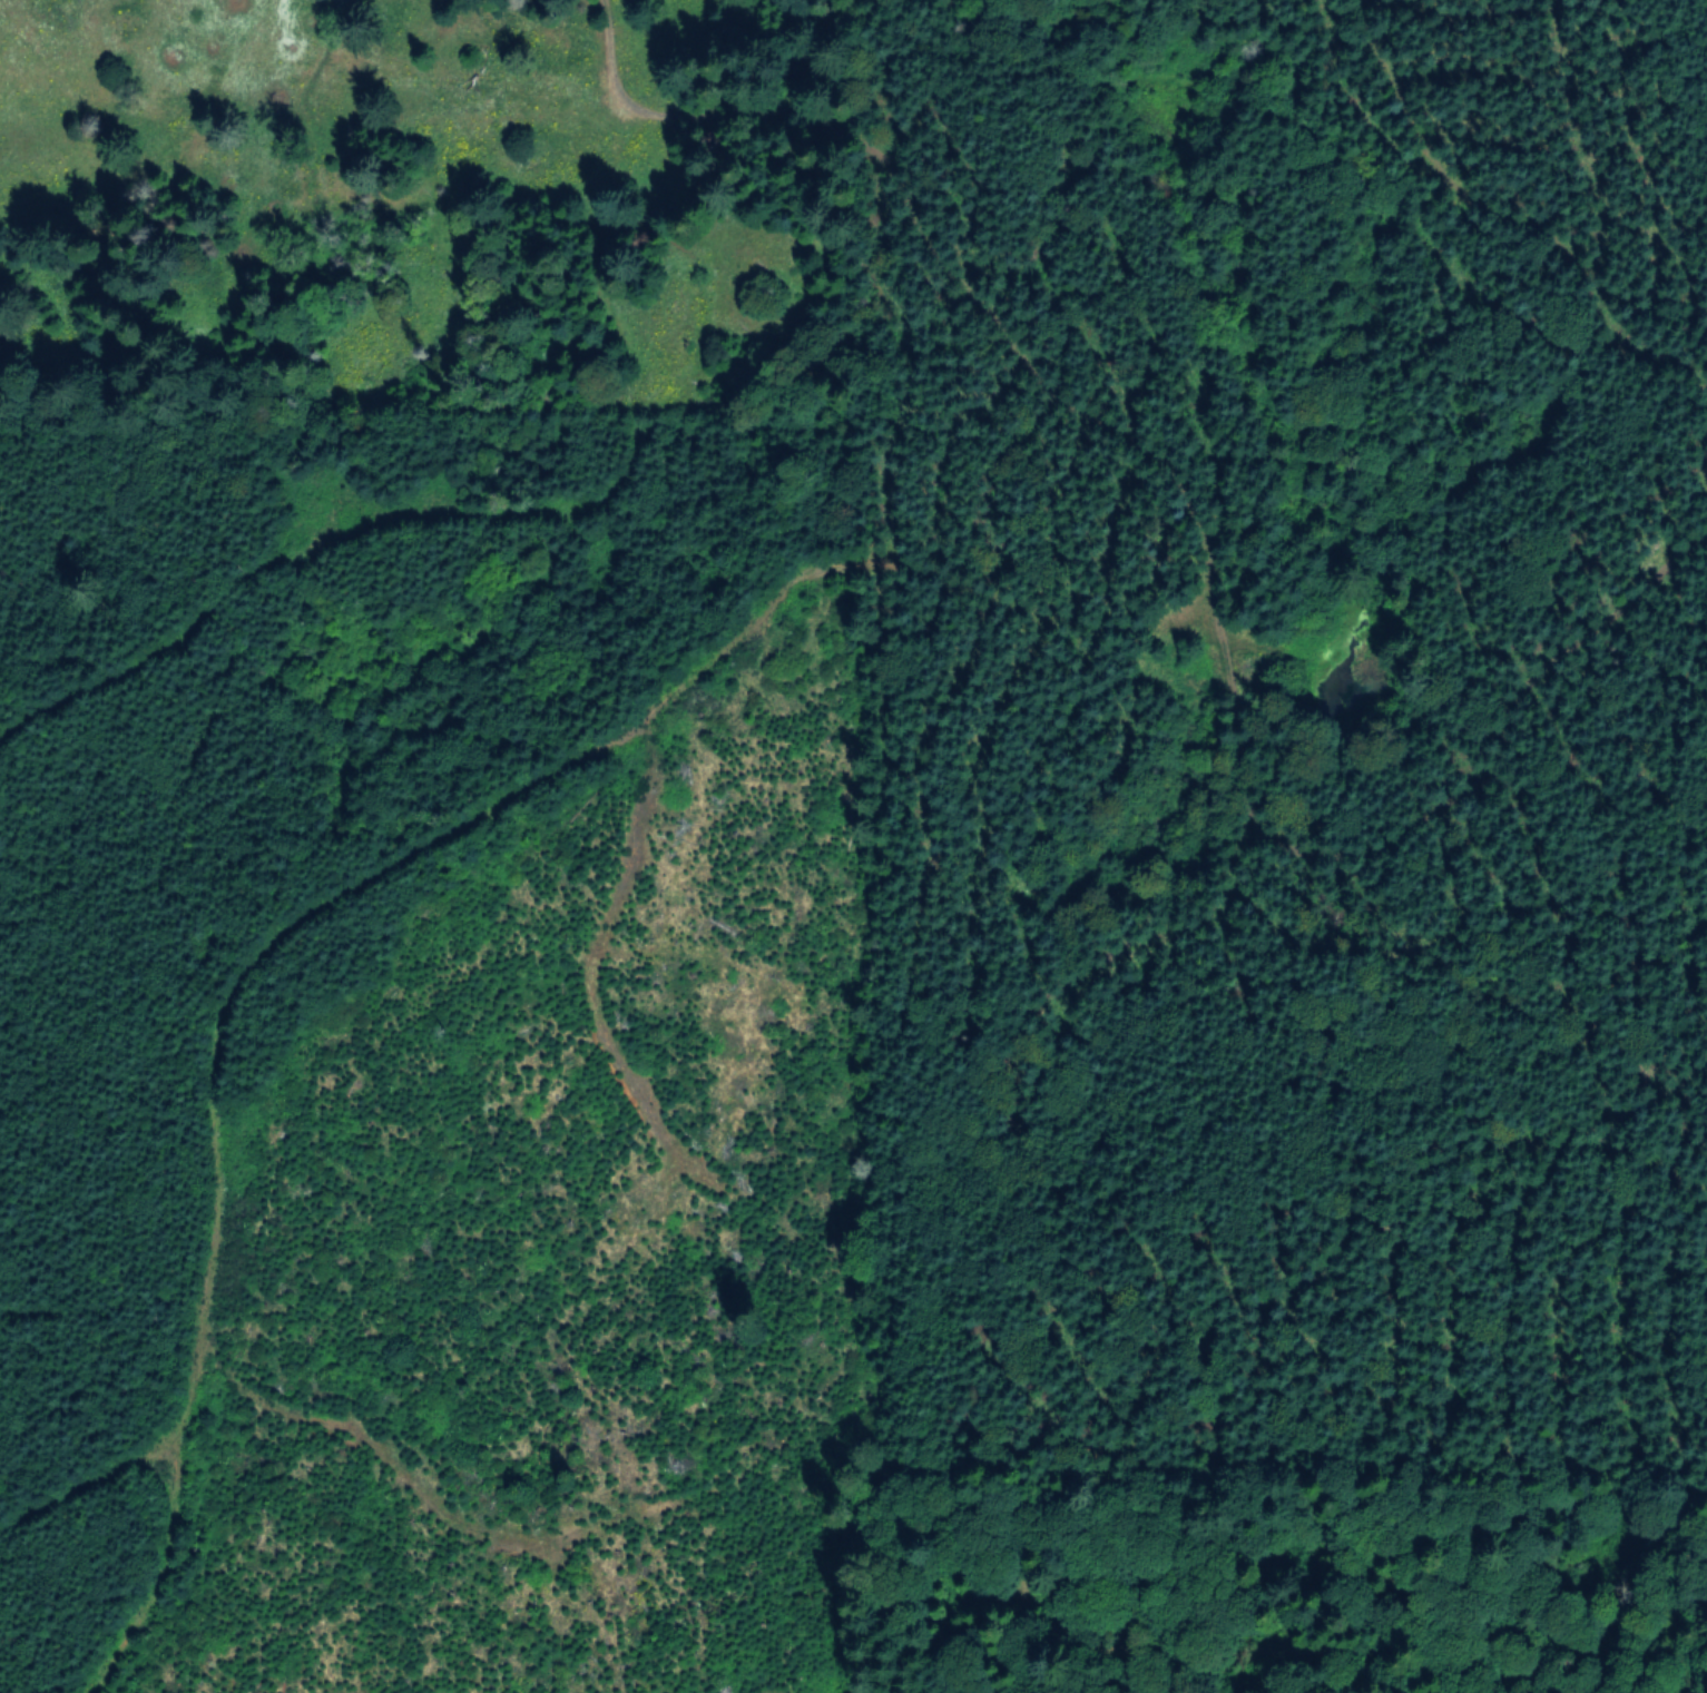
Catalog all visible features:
crop: (68, 62)

